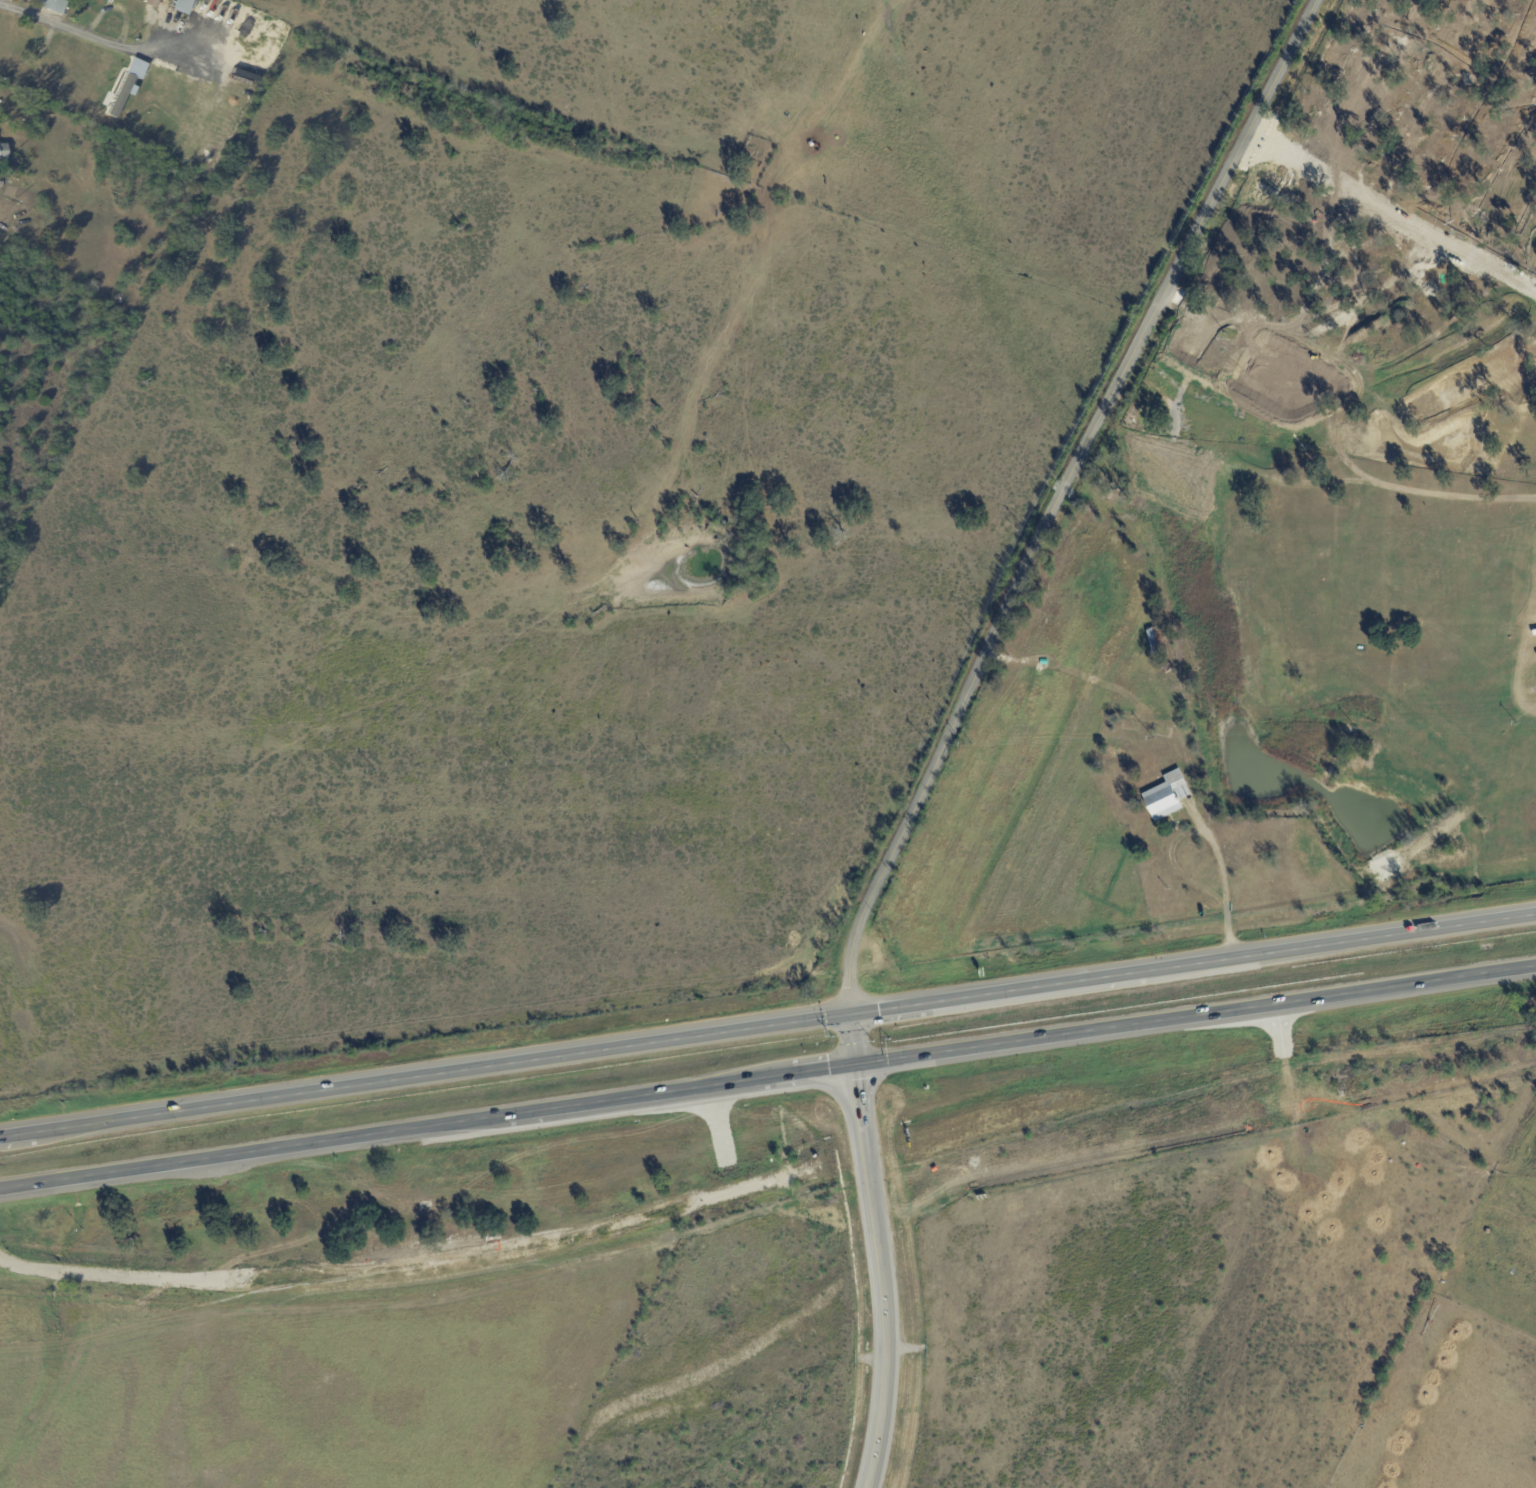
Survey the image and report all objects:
road: (0, 1)
building: (193, 4)
building: (51, 5)
building: (170, 5)
building: (224, 16)
building: (196, 30)
road: (101, 40)
building: (3, 151)
building: (14, 166)
building: (1322, 281)
building: (1327, 287)
building: (1255, 293)
building: (1274, 348)
building: (1286, 354)
building: (1130, 416)
road: (1056, 498)
building: (1161, 642)
building: (1169, 668)
building: (1116, 761)
building: (1169, 796)
road: (1223, 893)
traffic signals: (849, 1017)
road: (1195, 1017)
road: (768, 1028)
road: (852, 1043)
traffic signals: (855, 1069)
road: (427, 1130)
road: (884, 1278)

